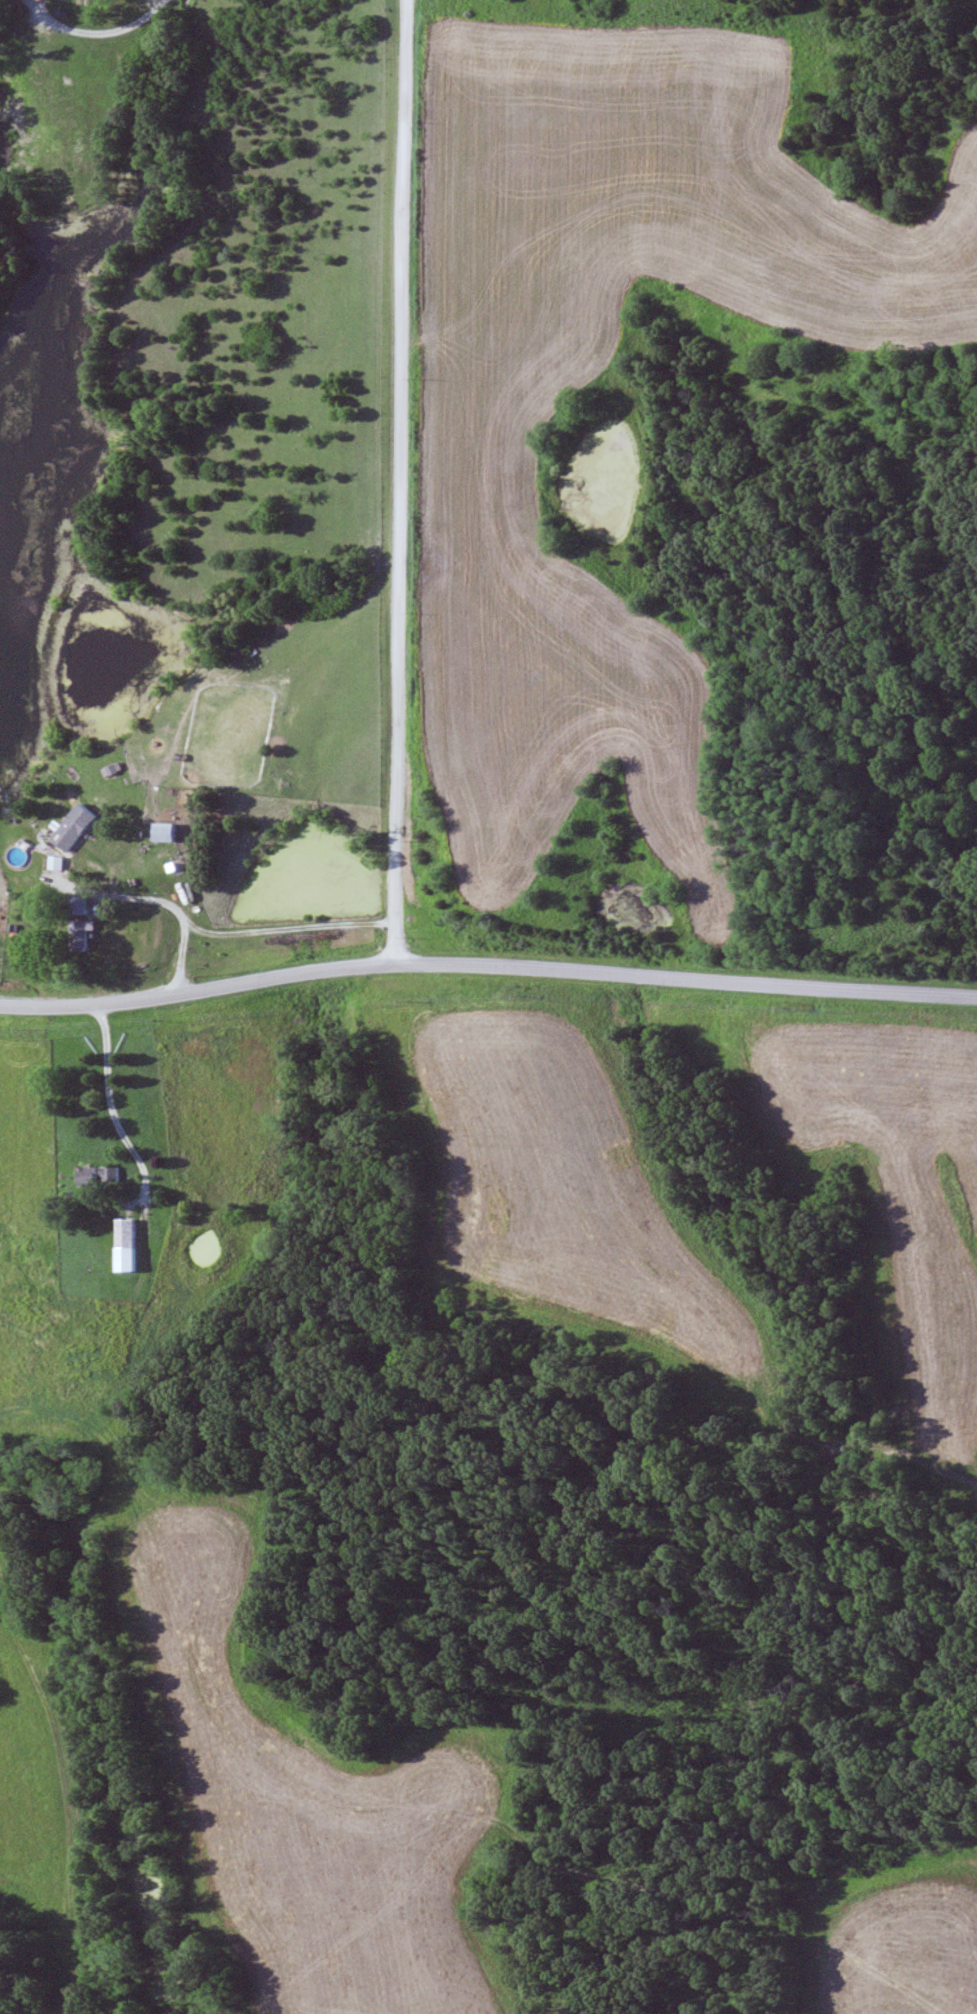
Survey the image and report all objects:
road: (156, 5)
road: (102, 37)
road: (679, 306)
road: (404, 483)
building: (82, 828)
building: (171, 834)
road: (177, 910)
building: (89, 930)
road: (291, 932)
road: (487, 972)
road: (132, 1147)
building: (103, 1177)
building: (131, 1245)
building: (37, 1261)
road: (123, 1470)

